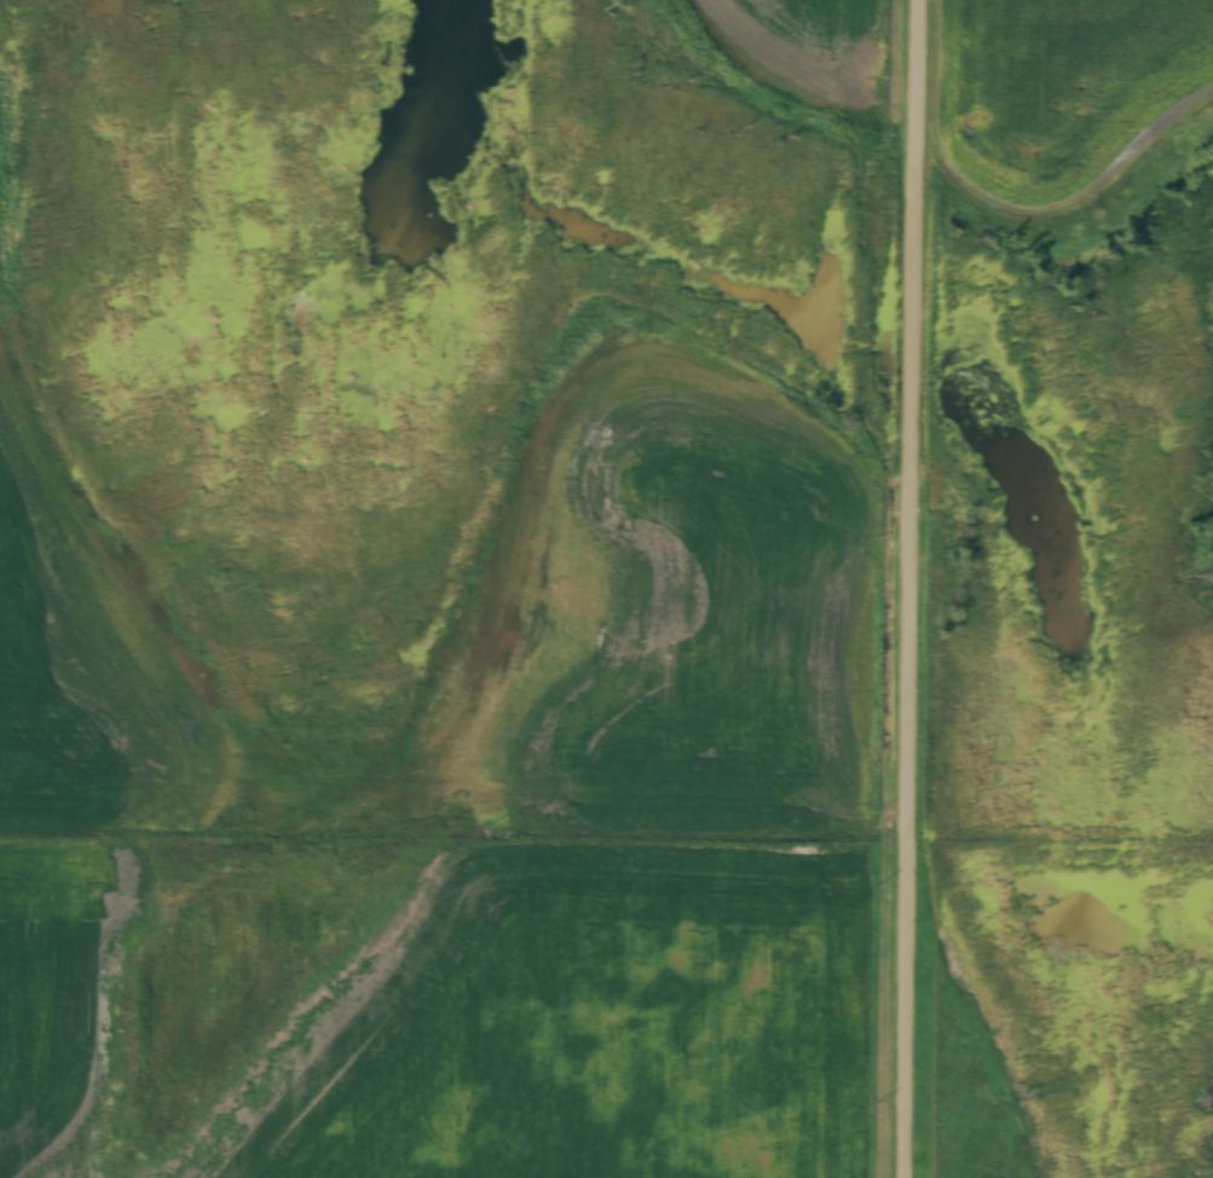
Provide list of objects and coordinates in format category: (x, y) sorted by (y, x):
road: (908, 588)

